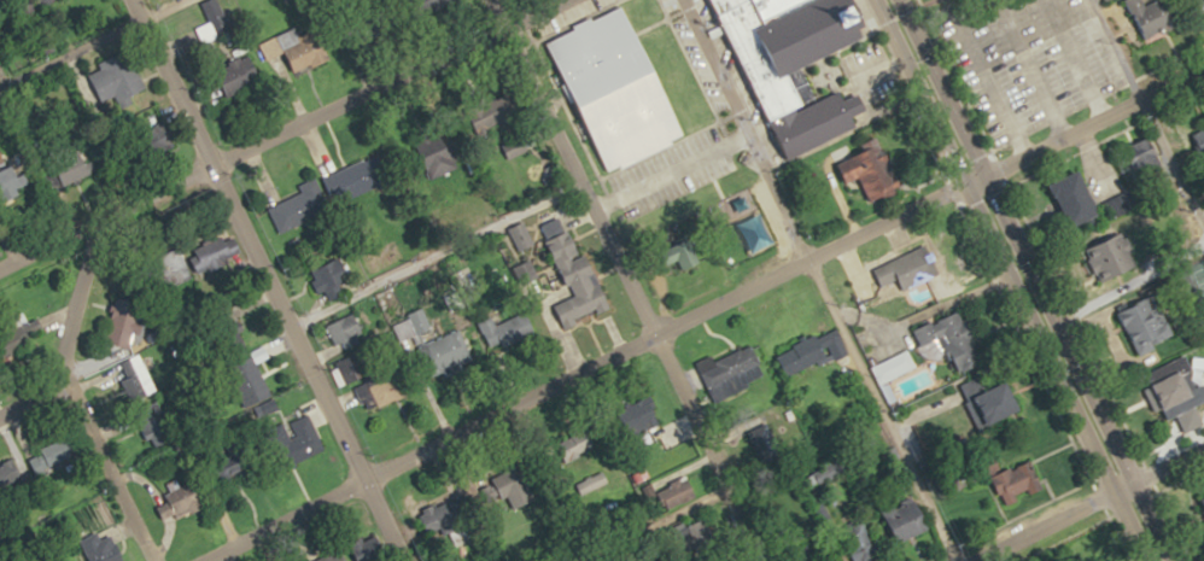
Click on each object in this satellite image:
building: (1106, 0)
building: (1203, 1)
road: (18, 7)
building: (216, 17)
building: (1152, 17)
building: (305, 48)
road: (1118, 51)
parking lot: (1025, 58)
road: (1074, 60)
building: (795, 64)
road: (983, 68)
road: (1033, 70)
parking lot: (866, 72)
building: (238, 75)
building: (122, 76)
building: (616, 88)
road: (1087, 128)
road: (279, 133)
building: (153, 135)
building: (518, 150)
building: (1142, 159)
building: (71, 164)
road: (1174, 164)
building: (871, 169)
building: (362, 176)
building: (1080, 199)
building: (299, 208)
building: (216, 253)
building: (1114, 256)
building: (177, 263)
building: (911, 268)
building: (332, 277)
road: (275, 280)
road: (623, 280)
road: (818, 280)
road: (1016, 280)
building: (572, 308)
building: (128, 322)
building: (1147, 323)
building: (347, 331)
building: (507, 331)
road: (70, 333)
building: (953, 340)
building: (808, 349)
building: (445, 352)
road: (575, 367)
building: (741, 367)
building: (894, 367)
building: (134, 379)
building: (255, 379)
building: (385, 387)
building: (1180, 387)
building: (1000, 402)
building: (641, 414)
building: (157, 431)
building: (303, 438)
building: (575, 444)
building: (60, 450)
road: (1159, 462)
road: (103, 468)
building: (246, 468)
building: (11, 472)
building: (1019, 481)
building: (509, 489)
building: (678, 492)
building: (186, 497)
building: (443, 518)
building: (907, 518)
road: (641, 520)
road: (1042, 522)
building: (861, 544)
building: (100, 547)
building: (334, 557)
building: (826, 560)

